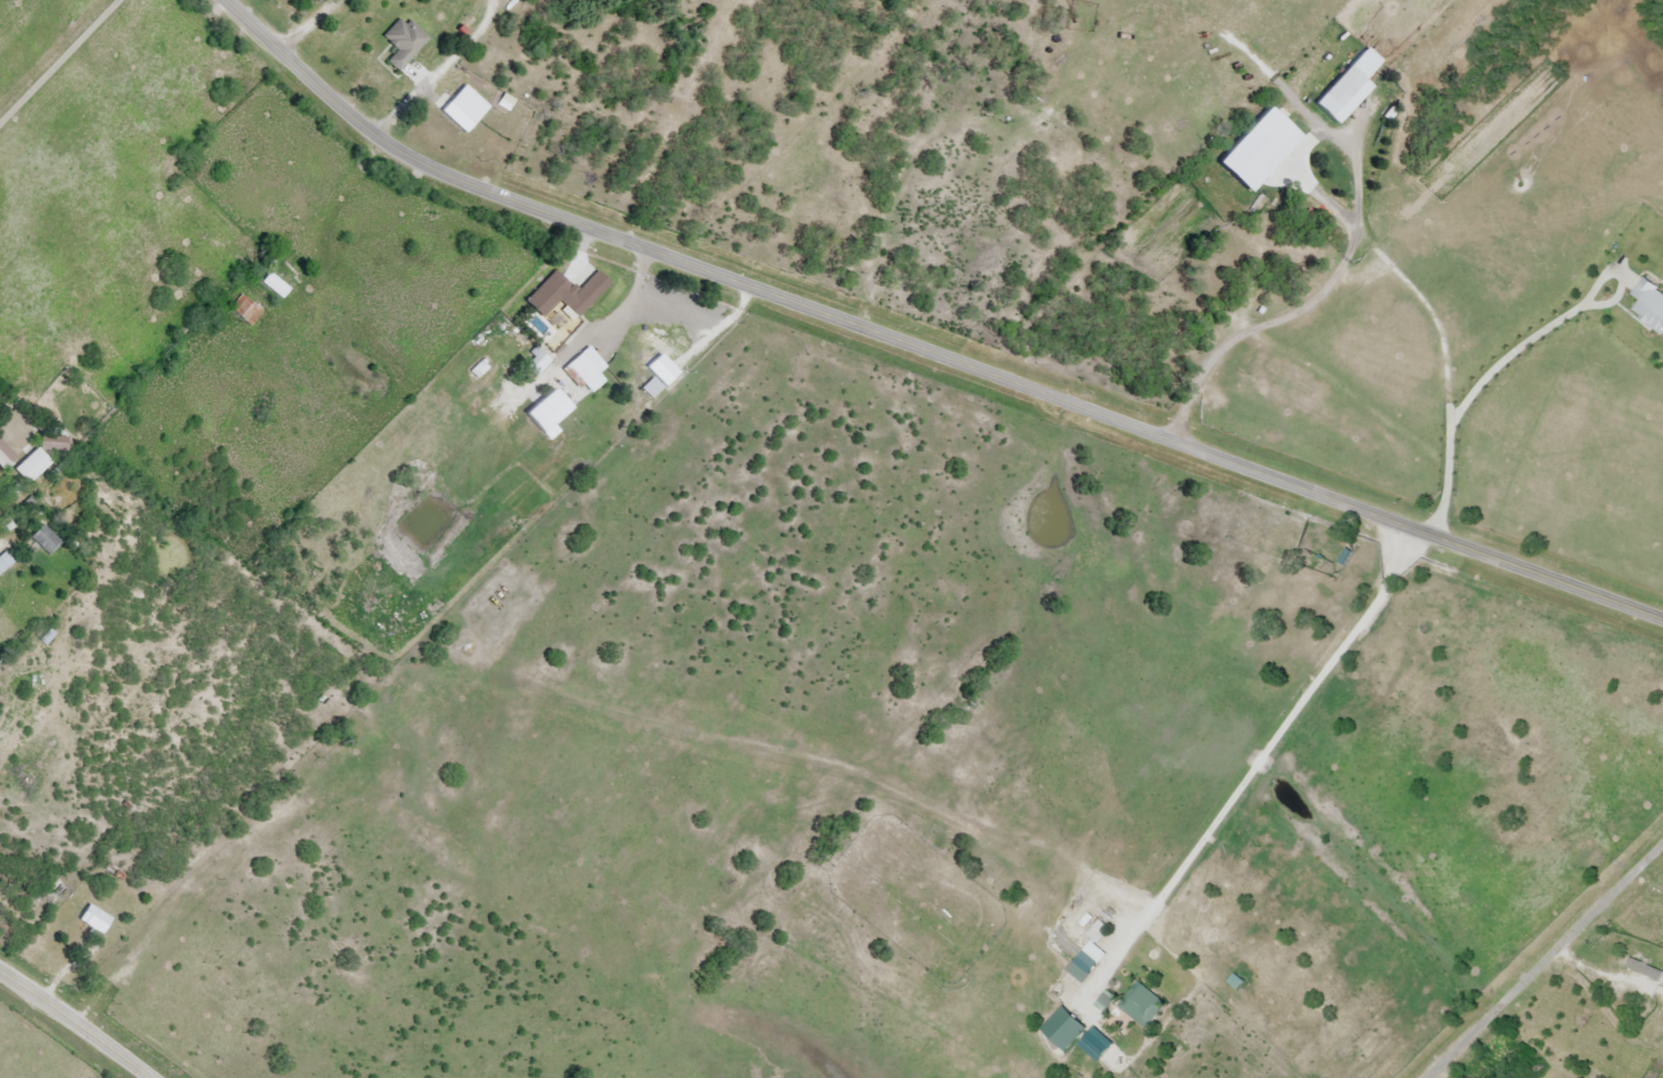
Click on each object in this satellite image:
building: (401, 43)
building: (1345, 83)
building: (1229, 87)
building: (1205, 105)
building: (1211, 261)
building: (272, 286)
building: (565, 294)
road: (626, 300)
building: (1649, 306)
road: (1303, 308)
building: (244, 311)
road: (713, 334)
building: (549, 347)
building: (643, 348)
road: (921, 350)
building: (580, 370)
building: (650, 388)
building: (29, 467)
building: (43, 541)
building: (3, 561)
building: (92, 920)
building: (1089, 953)
road: (1543, 959)
building: (1141, 1006)
road: (75, 1024)

